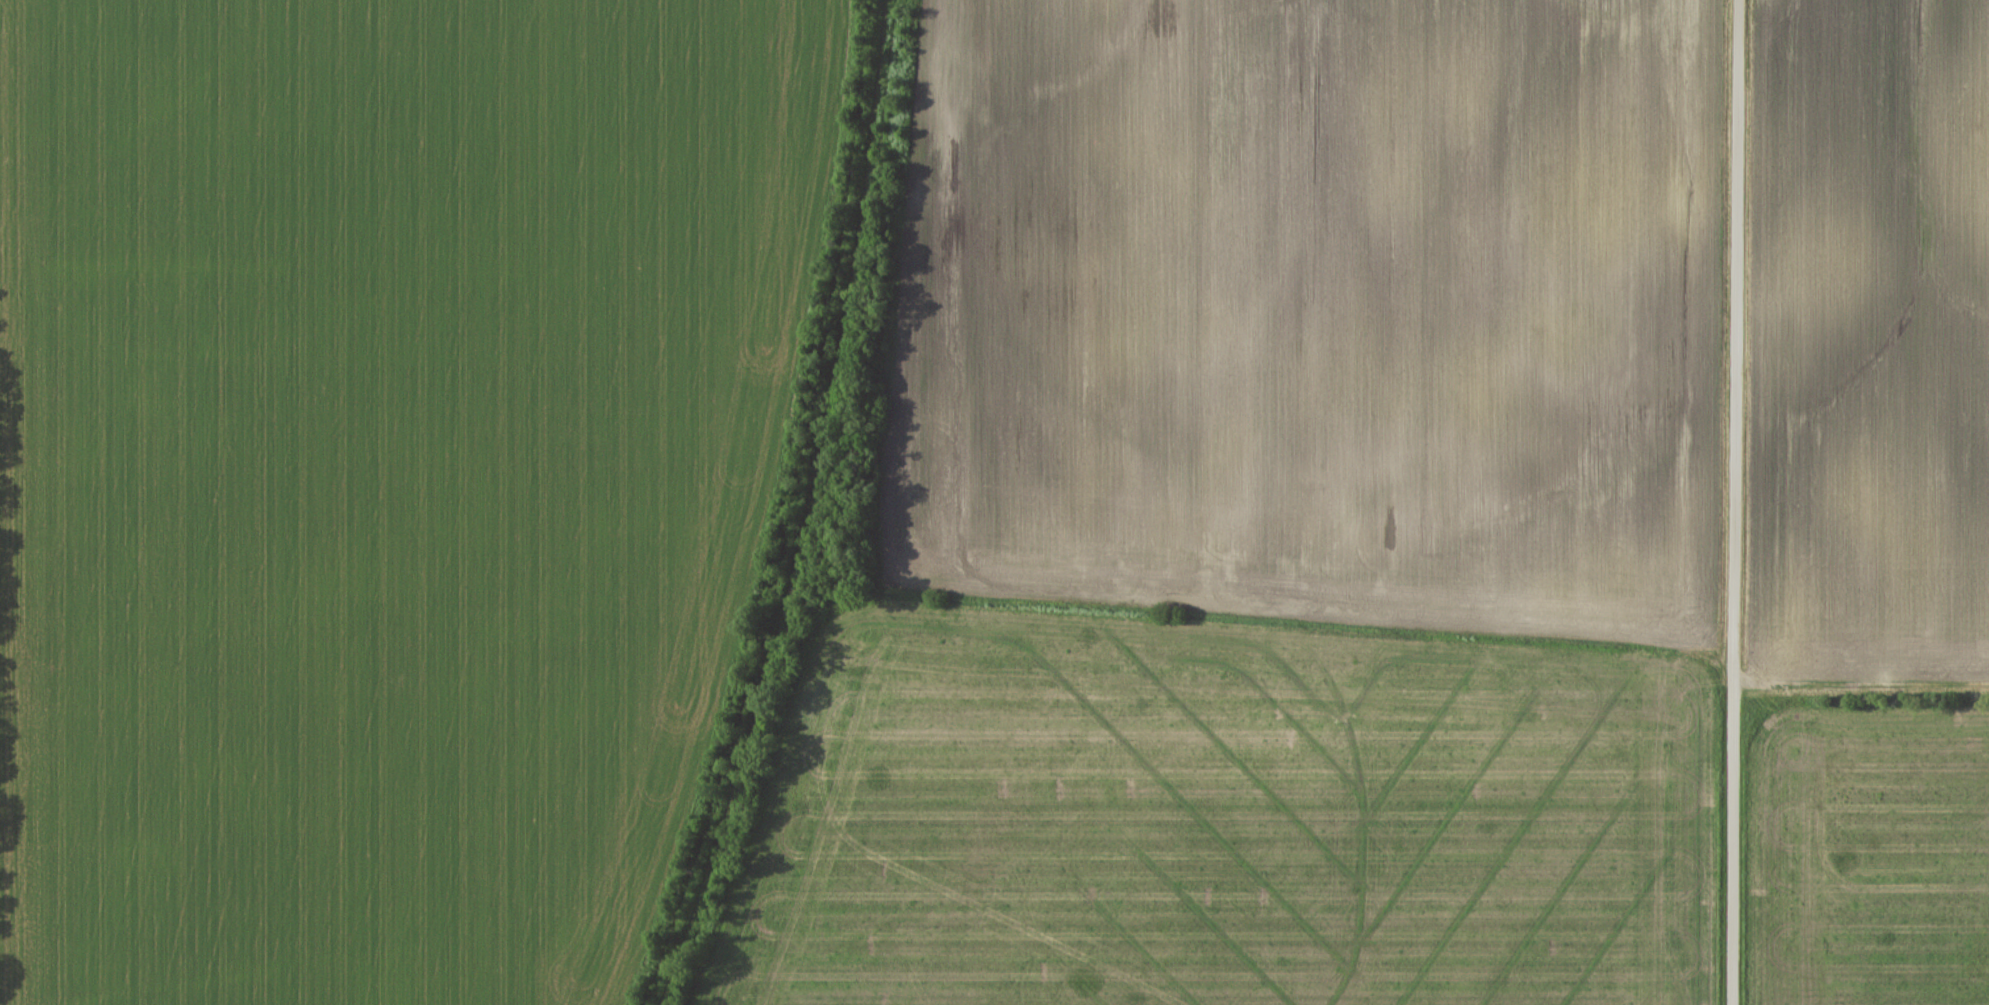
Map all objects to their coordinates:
road: (1741, 502)

